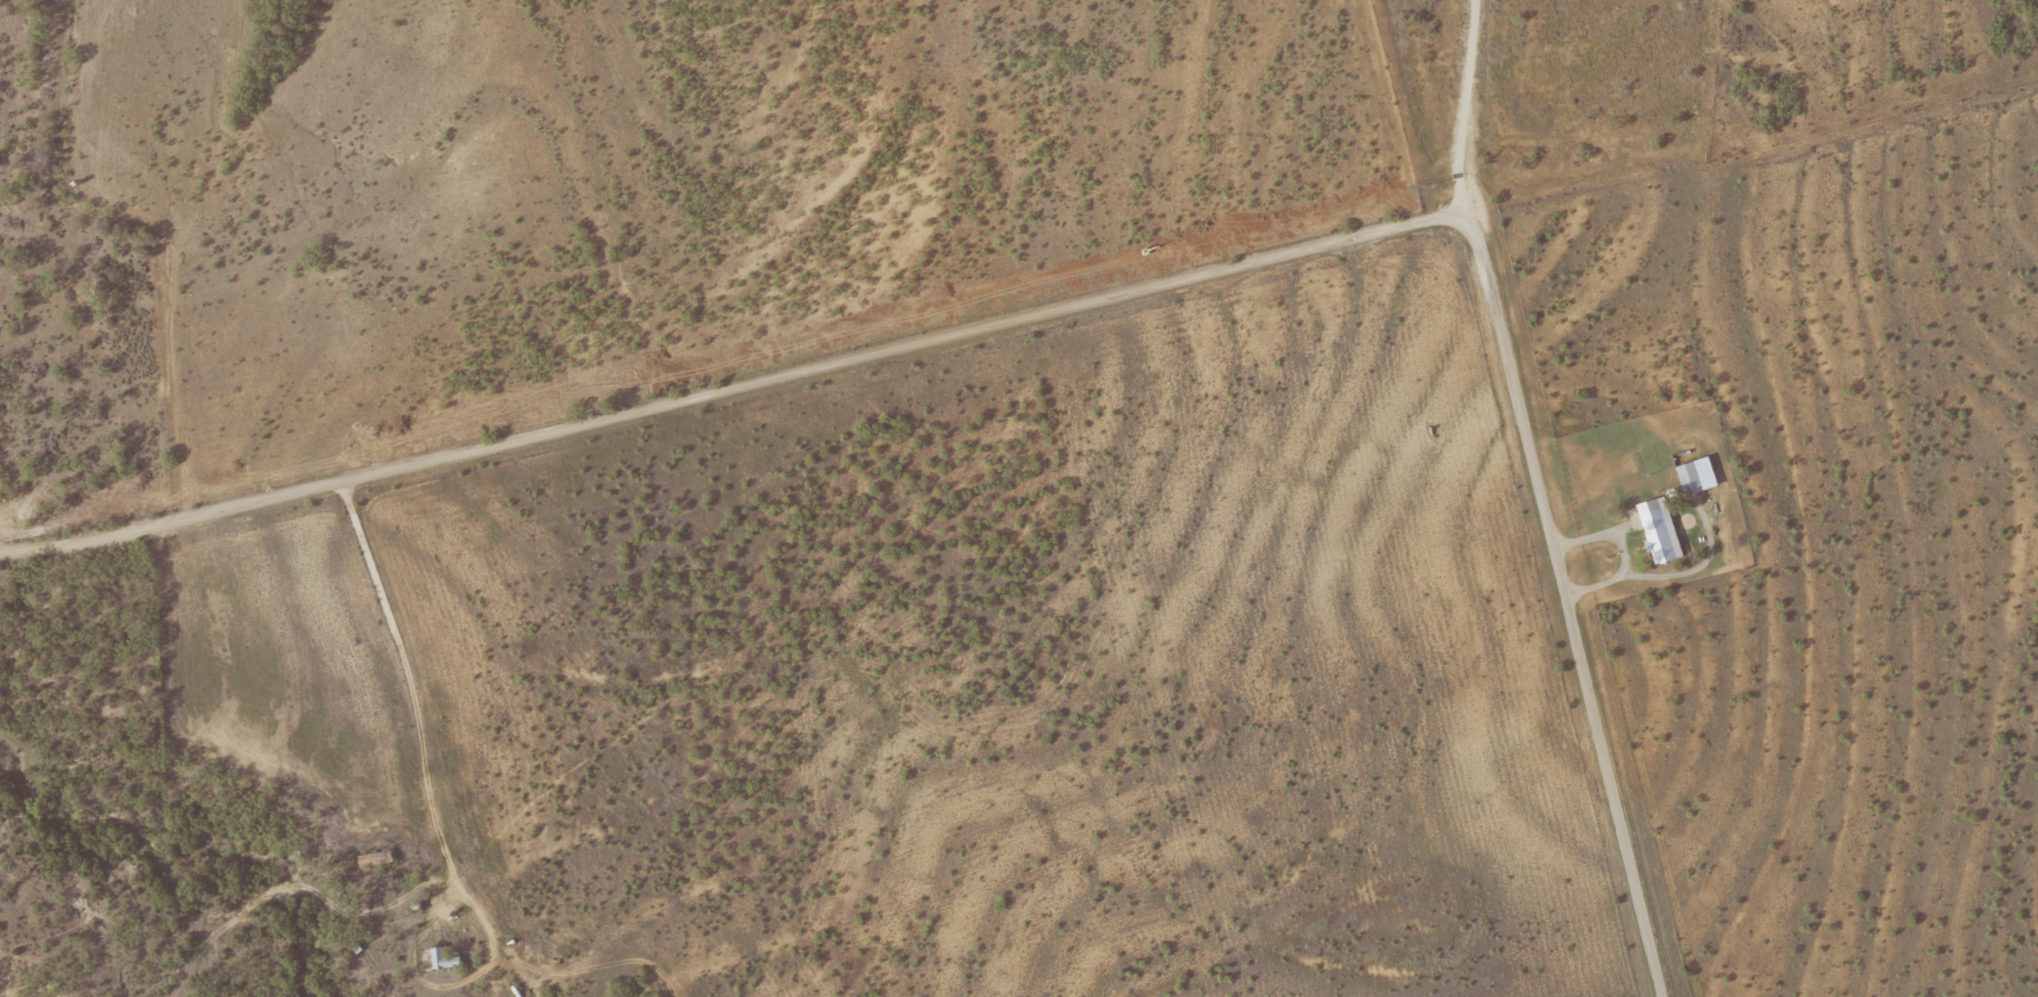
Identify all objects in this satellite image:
road: (1435, 108)
road: (1120, 290)
building: (1695, 474)
building: (1659, 528)
road: (404, 646)

